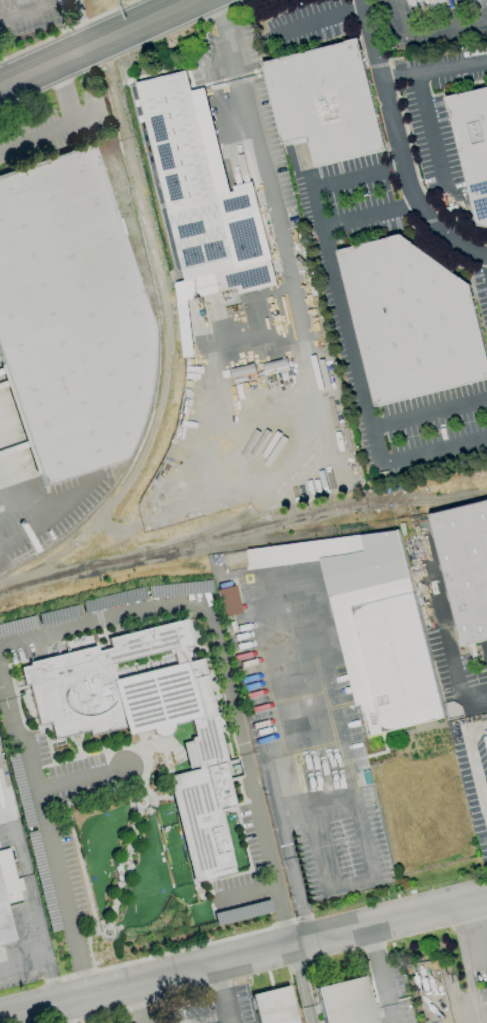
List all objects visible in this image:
building: (427, 7)
road: (154, 9)
road: (42, 11)
road: (88, 23)
road: (316, 23)
road: (440, 28)
road: (224, 39)
road: (99, 44)
road: (432, 68)
road: (65, 93)
building: (325, 102)
building: (473, 135)
road: (35, 139)
road: (432, 140)
road: (396, 146)
building: (201, 200)
road: (315, 210)
road: (271, 219)
building: (70, 317)
building: (411, 321)
road: (345, 327)
road: (374, 441)
road: (3, 499)
railway: (397, 502)
road: (51, 506)
railway: (248, 510)
road: (6, 527)
railway: (243, 531)
railway: (222, 548)
building: (465, 566)
building: (227, 601)
road: (445, 626)
building: (386, 638)
road: (225, 674)
building: (26, 703)
road: (22, 715)
building: (146, 721)
road: (16, 735)
road: (72, 740)
building: (486, 742)
road: (77, 743)
road: (171, 746)
road: (92, 752)
road: (474, 758)
road: (167, 760)
road: (151, 761)
road: (342, 786)
road: (137, 820)
road: (53, 849)
park: (137, 865)
road: (350, 883)
road: (85, 888)
road: (246, 889)
building: (7, 895)
road: (34, 910)
building: (241, 912)
road: (185, 949)
road: (243, 958)
road: (23, 961)
road: (465, 964)
road: (381, 974)
road: (301, 984)
road: (222, 994)
building: (345, 1002)
road: (136, 1004)
building: (273, 1007)
road: (64, 1013)
road: (203, 1017)

